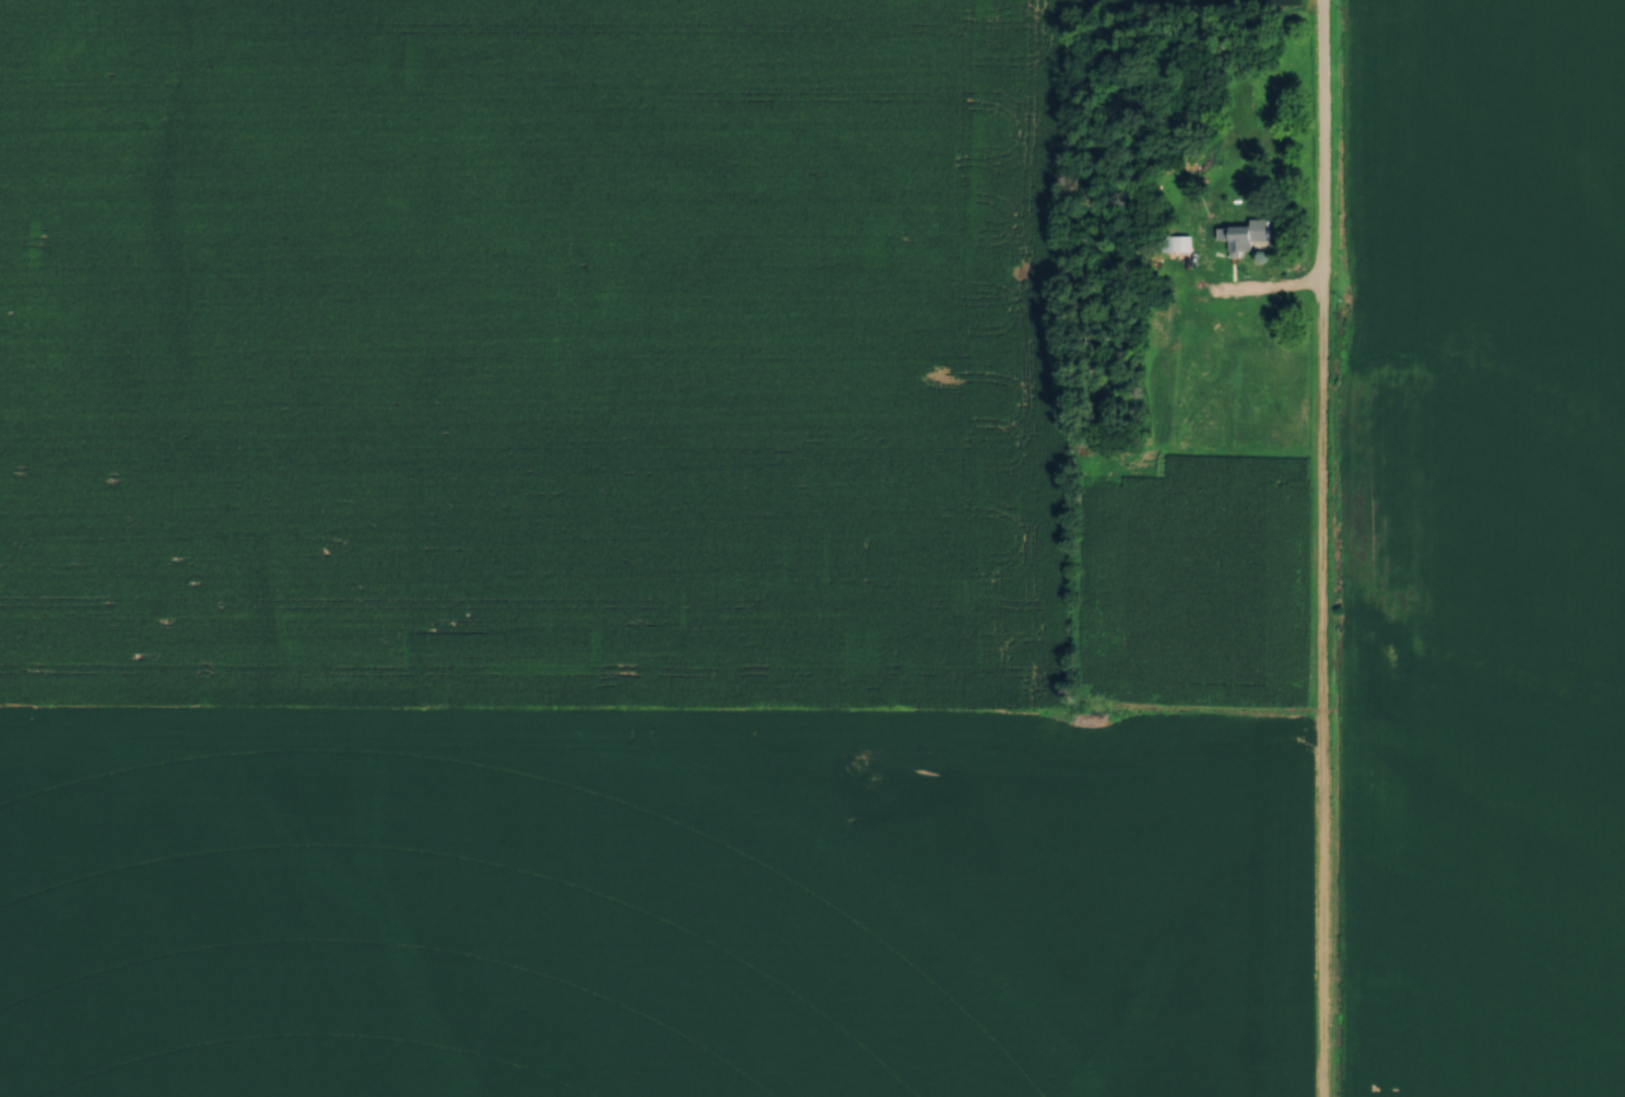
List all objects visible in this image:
building: (1244, 229)
building: (1181, 237)
building: (1166, 304)
road: (1318, 547)

